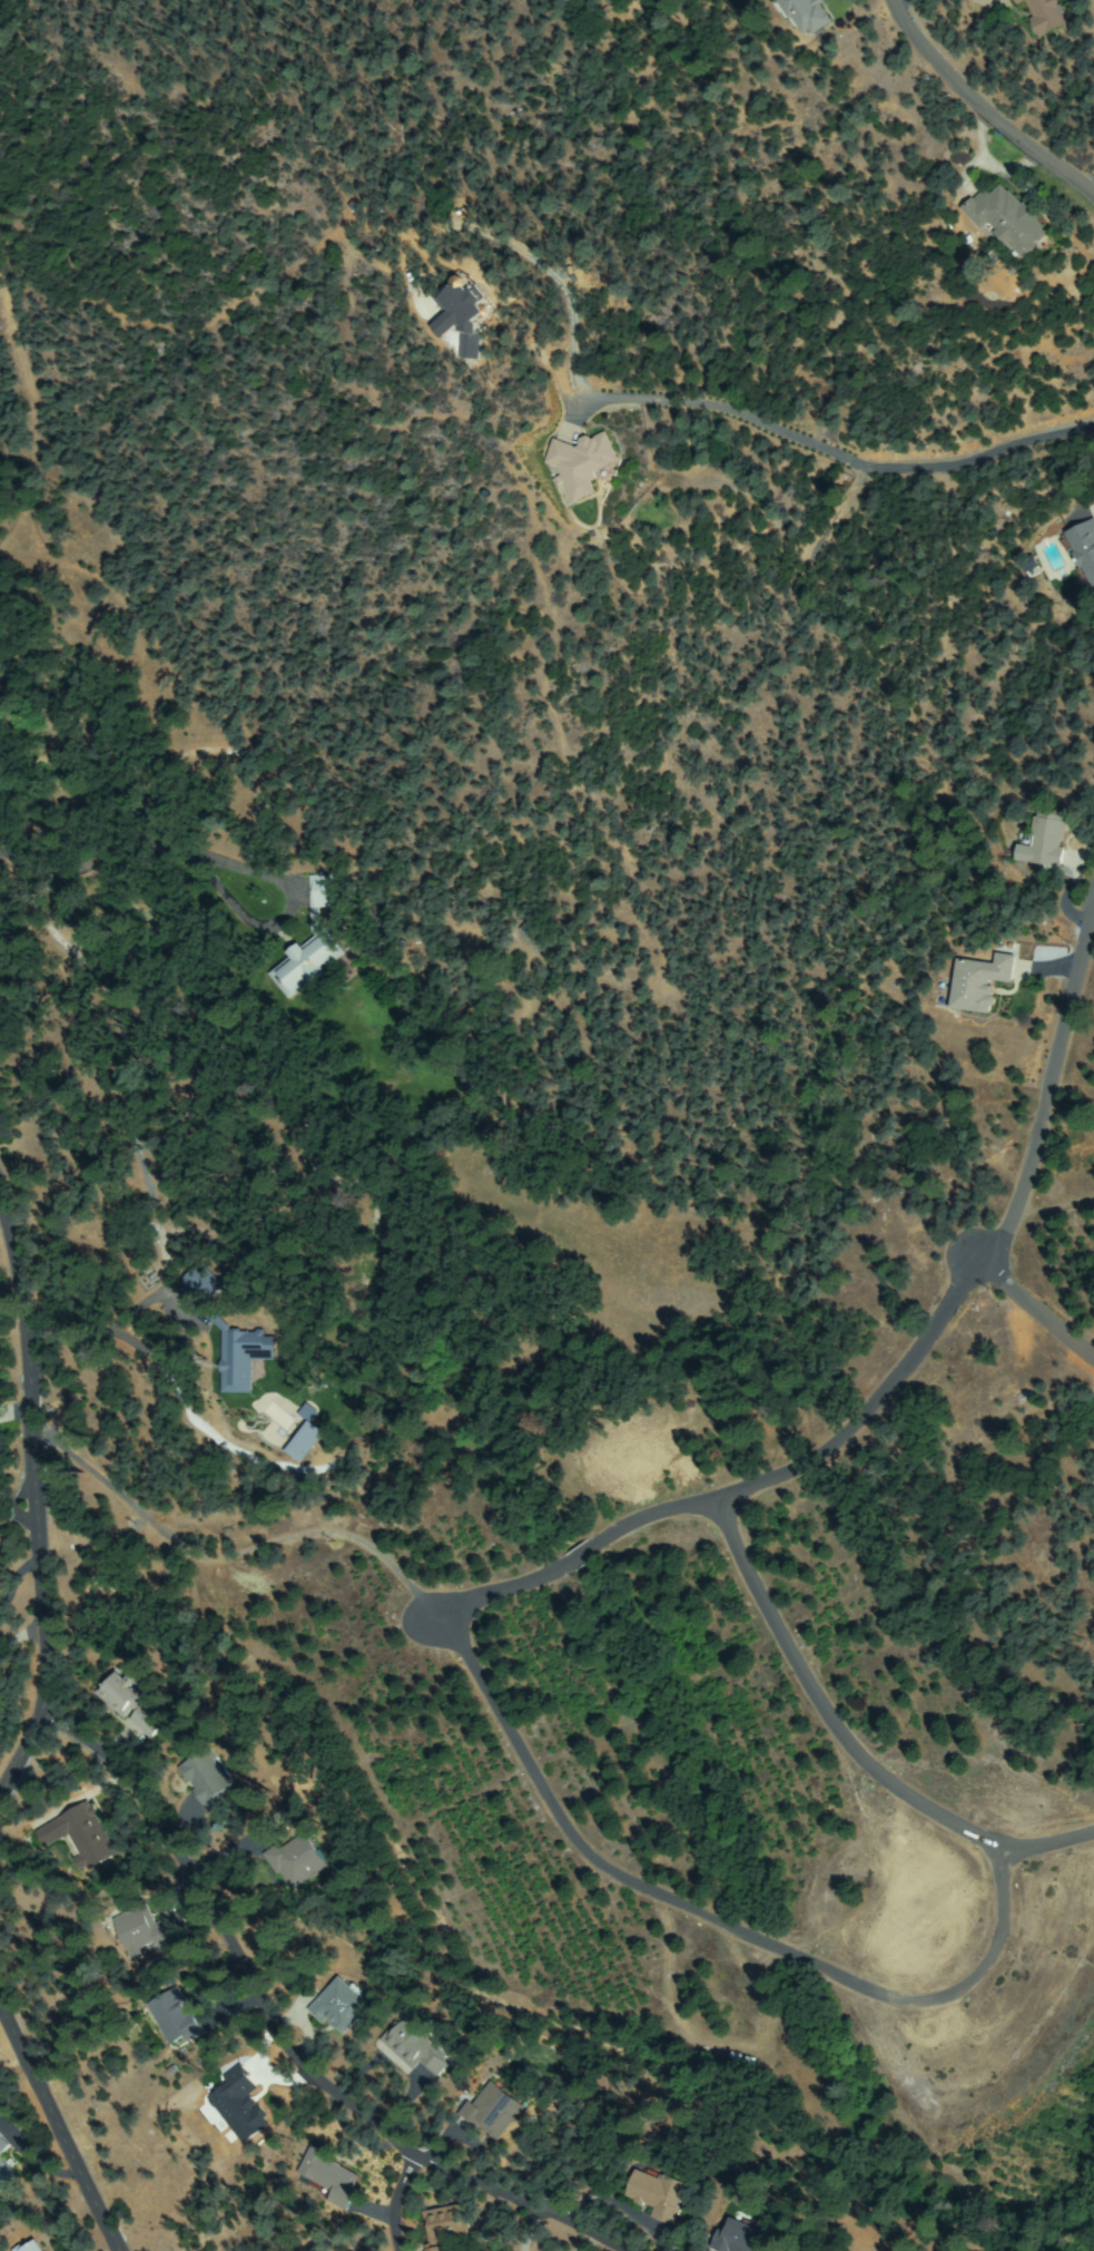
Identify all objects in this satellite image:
building: (1019, 1)
building: (805, 13)
building: (1045, 14)
road: (979, 111)
building: (1007, 219)
building: (463, 316)
road: (32, 415)
building: (582, 462)
building: (1083, 549)
building: (1044, 839)
building: (322, 891)
building: (535, 936)
building: (369, 949)
building: (306, 963)
building: (979, 982)
road: (1034, 1156)
building: (199, 1284)
building: (243, 1357)
building: (302, 1435)
road: (31, 1480)
building: (129, 1700)
road: (17, 1762)
building: (206, 1778)
building: (81, 1834)
building: (297, 1860)
road: (176, 1877)
building: (141, 1931)
building: (341, 2006)
building: (174, 2017)
building: (414, 2047)
building: (237, 2104)
building: (493, 2111)
road: (332, 2112)
road: (55, 2135)
building: (3, 2145)
building: (6, 2176)
building: (332, 2176)
building: (658, 2194)
road: (395, 2209)
road: (496, 2211)
building: (444, 2226)
building: (746, 2237)
building: (30, 2247)

